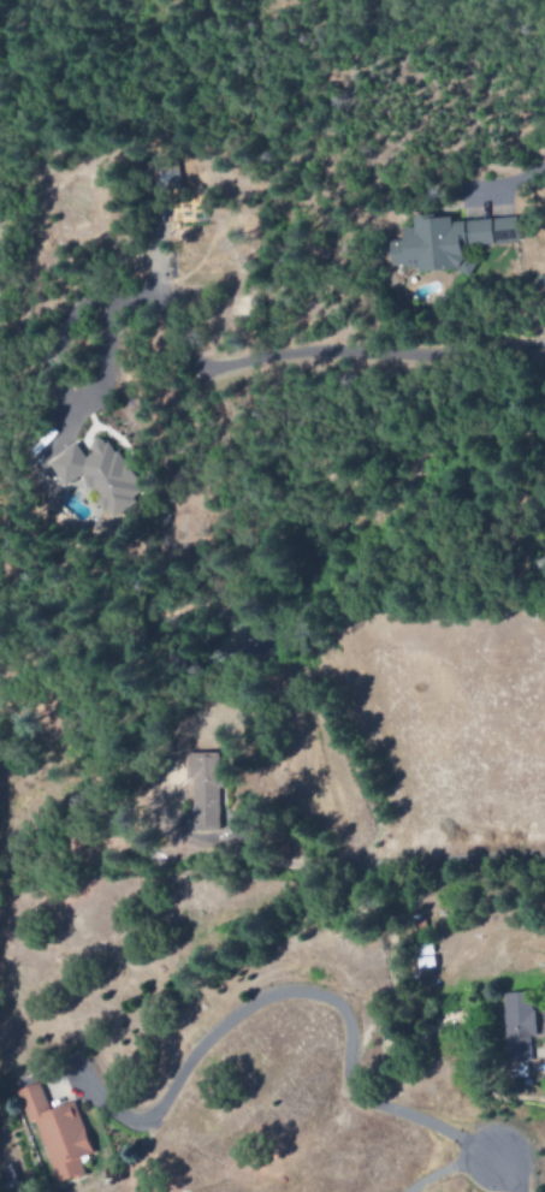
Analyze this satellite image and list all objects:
building: (445, 242)
building: (99, 475)
building: (202, 793)
building: (168, 834)
road: (332, 1001)
building: (516, 1026)
building: (57, 1133)
road: (508, 1172)

